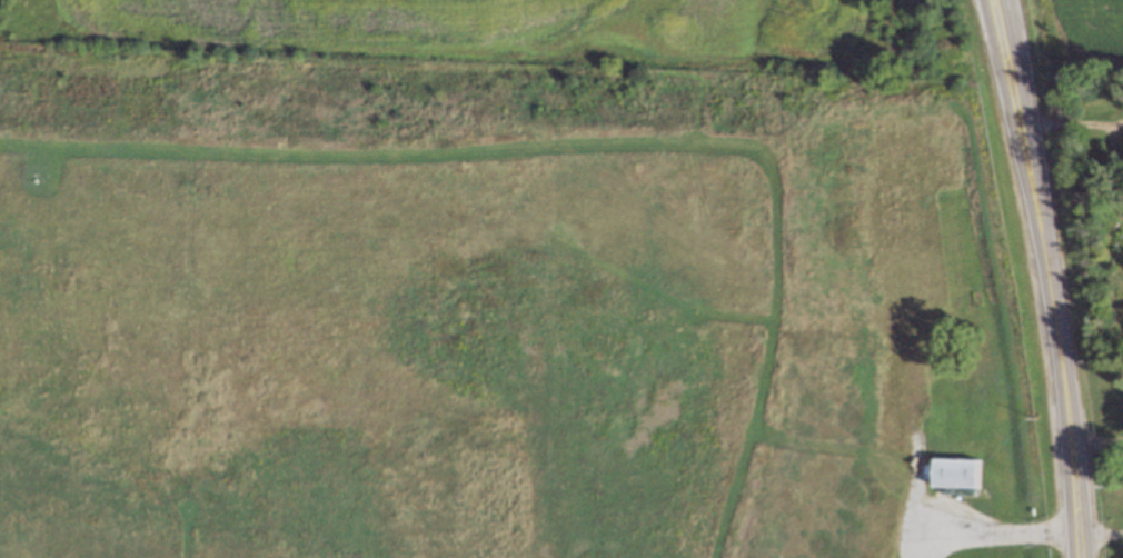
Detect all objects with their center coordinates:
crop: (1086, 26)
road: (1007, 73)
road: (1015, 73)
road: (1051, 293)
road: (1097, 440)
building: (961, 471)
park: (1111, 485)
road: (1075, 486)
road: (1102, 531)
road: (996, 532)
road: (1081, 545)

